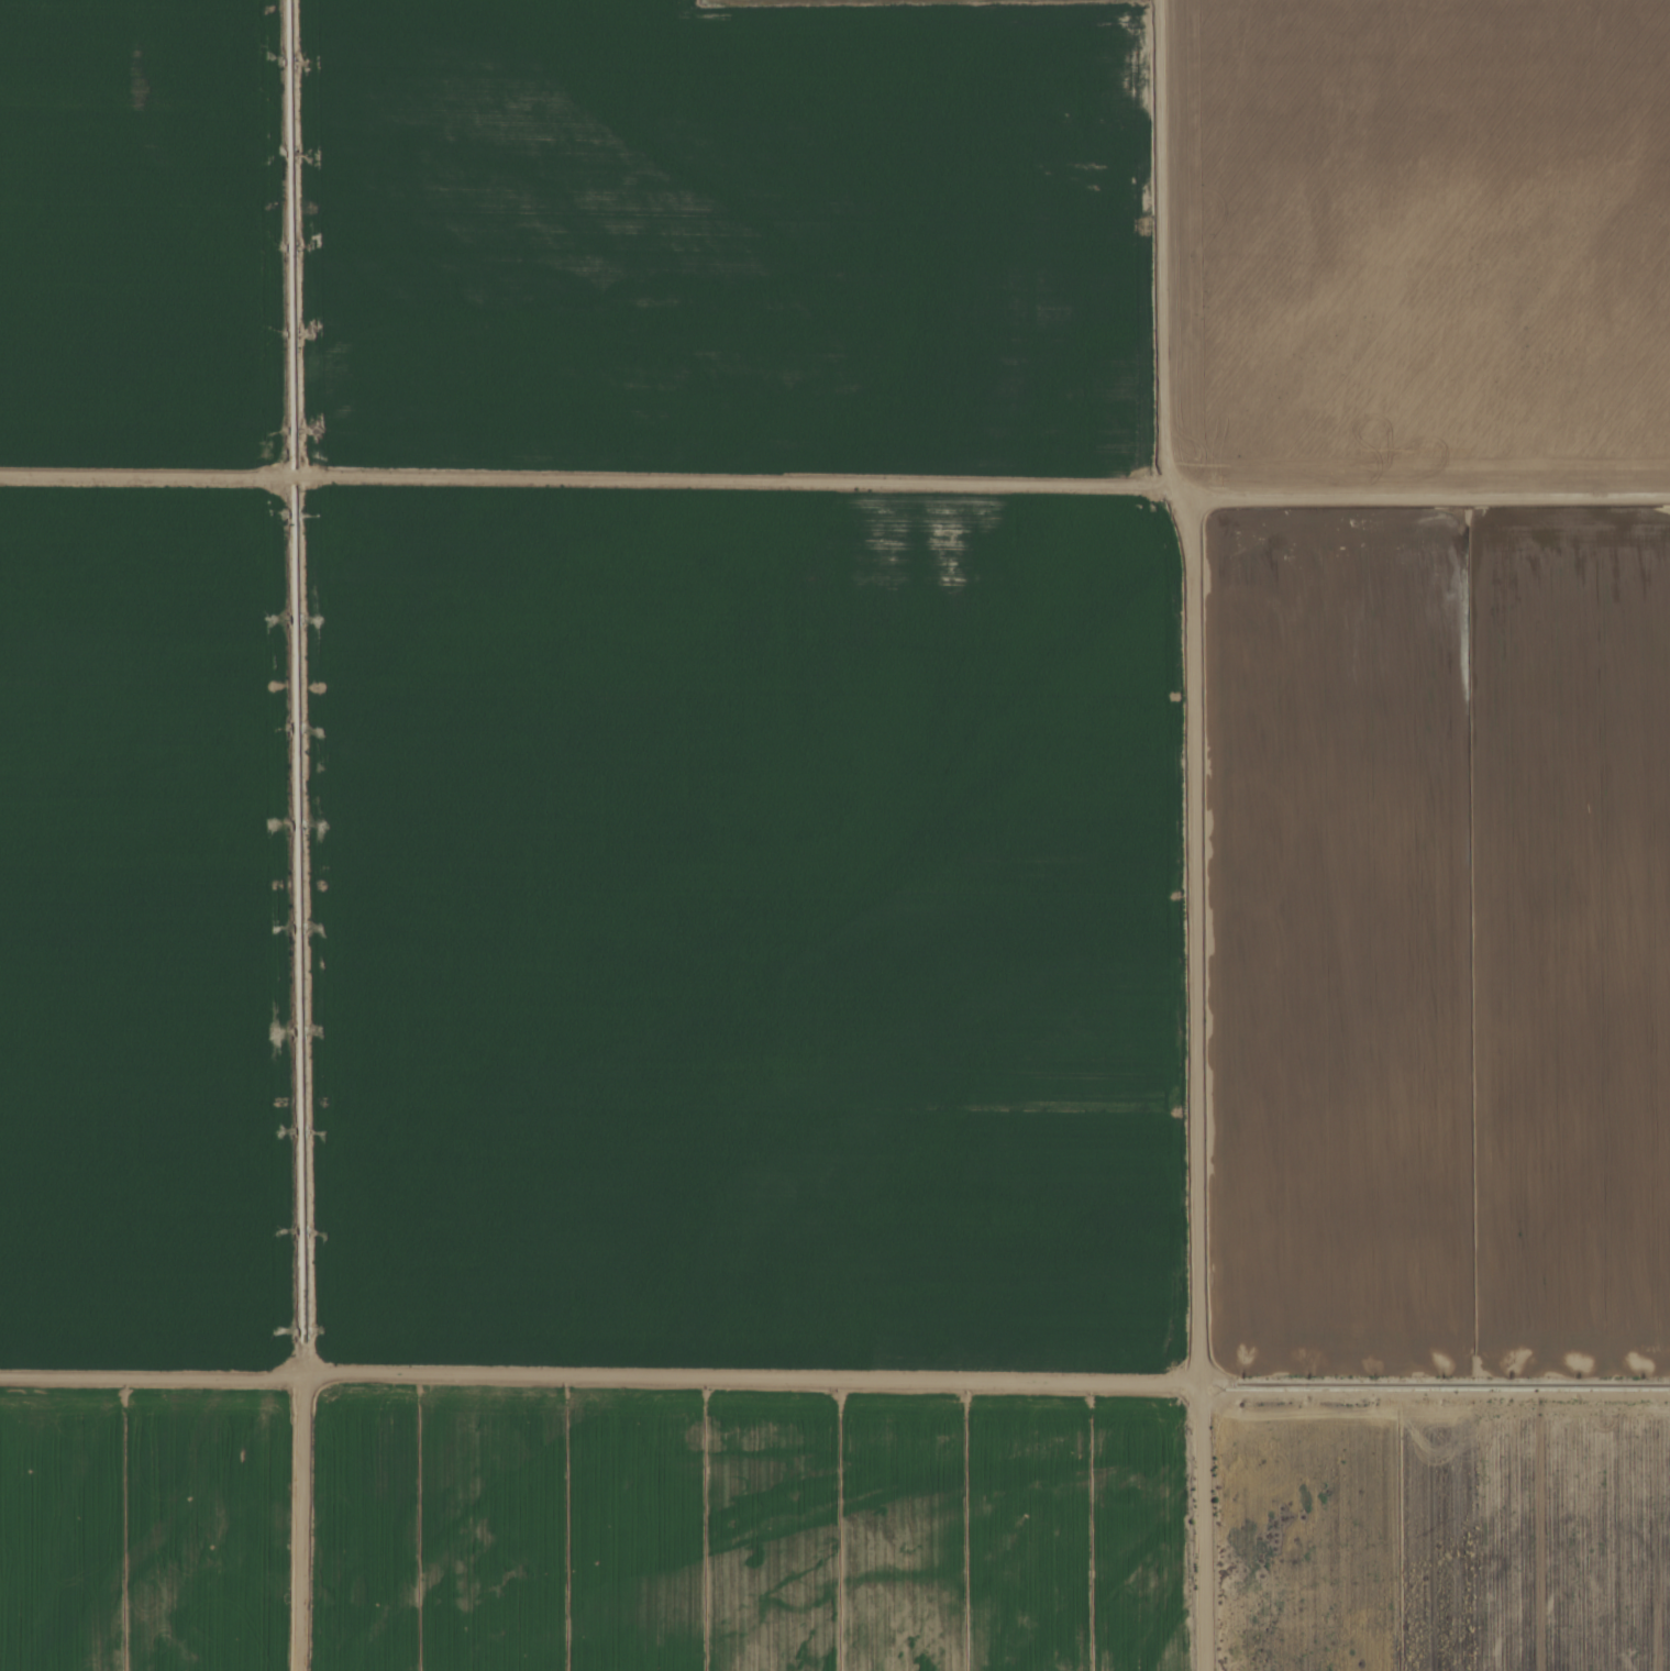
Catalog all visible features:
crop: (834, 835)

